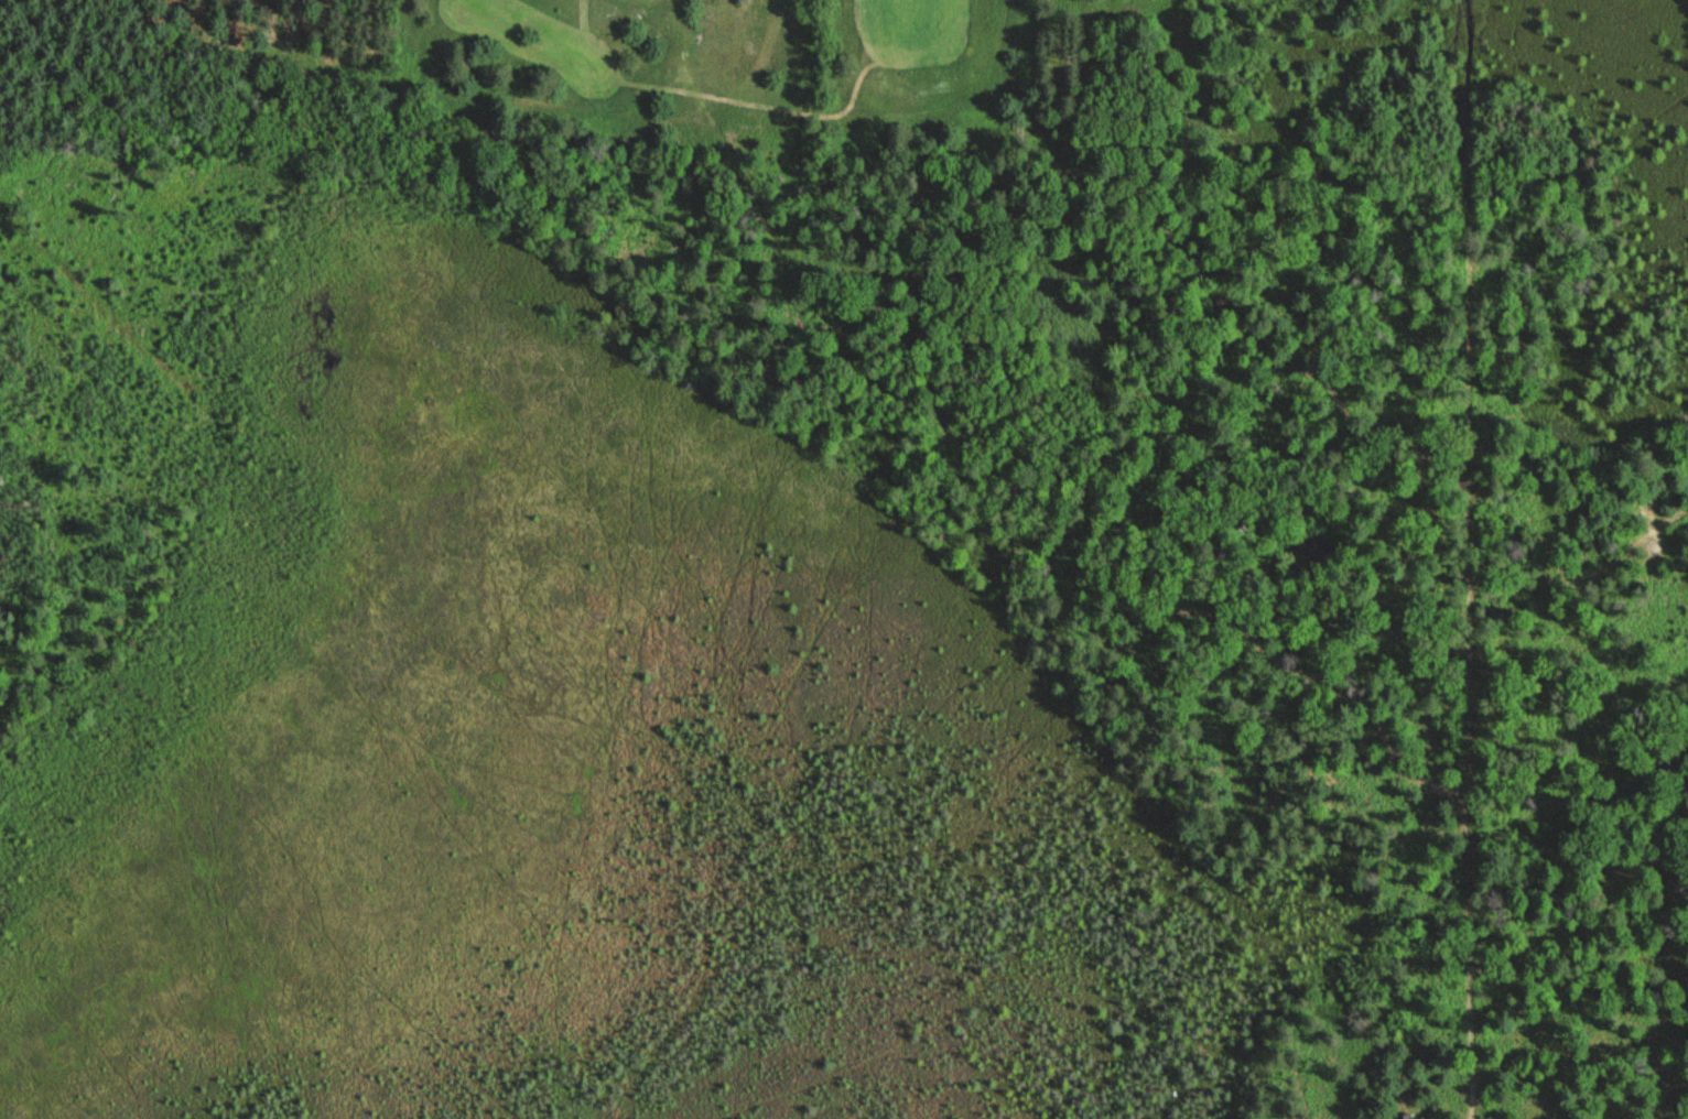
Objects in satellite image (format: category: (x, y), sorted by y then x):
road: (1677, 513)

